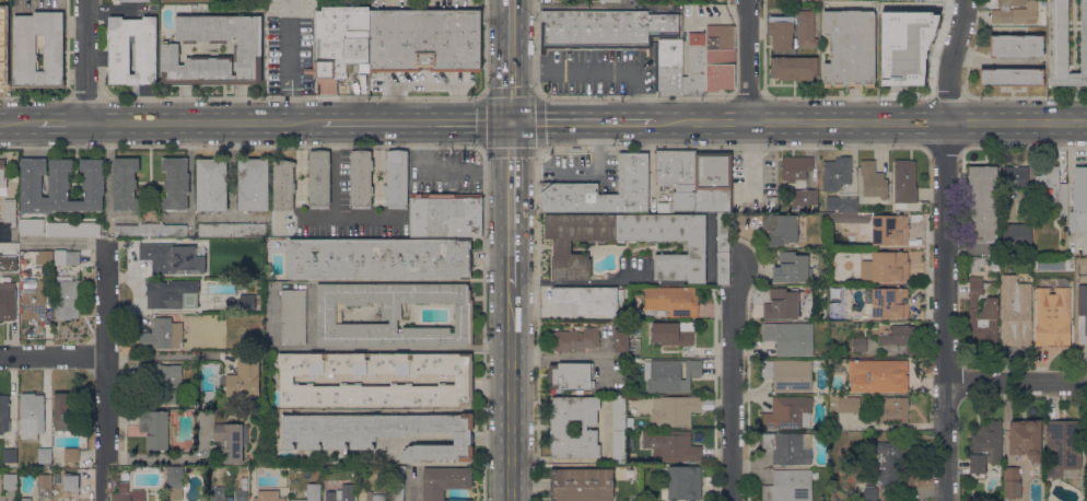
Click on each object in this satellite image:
building: (135, 0)
building: (608, 0)
building: (796, 0)
building: (116, 1)
building: (7, 3)
road: (593, 7)
building: (902, 12)
building: (1015, 12)
building: (605, 28)
building: (807, 28)
road: (510, 32)
building: (781, 32)
building: (720, 37)
building: (1065, 45)
building: (1016, 46)
building: (400, 47)
parking lot: (400, 47)
building: (247, 48)
building: (850, 48)
building: (2, 49)
building: (22, 51)
building: (145, 54)
parking lot: (288, 54)
building: (720, 57)
road: (84, 61)
road: (750, 61)
building: (696, 63)
building: (668, 65)
road: (572, 66)
road: (288, 67)
building: (794, 68)
parking lot: (597, 70)
building: (720, 77)
building: (1010, 77)
road: (510, 93)
road: (534, 93)
road: (633, 95)
traffic signals: (510, 120)
road: (16, 121)
road: (59, 121)
road: (200, 121)
road: (413, 121)
road: (581, 121)
road: (869, 124)
road: (417, 147)
road: (751, 158)
road: (596, 160)
road: (149, 163)
building: (795, 167)
road: (336, 170)
parking lot: (583, 170)
parking lot: (443, 172)
road: (440, 173)
building: (835, 173)
building: (1015, 175)
building: (678, 176)
building: (2, 178)
building: (318, 178)
building: (395, 178)
building: (360, 179)
building: (873, 179)
road: (150, 182)
building: (713, 183)
building: (904, 183)
building: (125, 184)
building: (175, 184)
building: (210, 184)
building: (253, 184)
building: (283, 185)
building: (60, 186)
building: (1053, 187)
building: (570, 188)
building: (804, 197)
building: (1078, 200)
road: (510, 203)
building: (982, 203)
building: (848, 205)
building: (1026, 208)
building: (9, 211)
building: (445, 214)
road: (349, 217)
building: (849, 218)
building: (32, 226)
building: (780, 228)
building: (72, 229)
building: (132, 230)
building: (168, 230)
building: (232, 230)
building: (889, 230)
building: (292, 233)
building: (1017, 234)
road: (51, 243)
building: (562, 247)
building: (723, 249)
road: (948, 249)
building: (44, 257)
building: (67, 257)
building: (377, 258)
building: (164, 259)
building: (975, 263)
building: (994, 263)
building: (889, 266)
building: (792, 268)
road: (734, 287)
building: (164, 293)
building: (67, 298)
building: (33, 299)
building: (588, 299)
building: (7, 300)
building: (245, 301)
building: (670, 302)
building: (889, 303)
building: (783, 304)
building: (196, 306)
building: (1016, 311)
building: (982, 313)
building: (390, 314)
building: (1052, 316)
building: (293, 317)
building: (1080, 325)
building: (673, 334)
building: (162, 335)
building: (902, 337)
building: (790, 338)
building: (574, 339)
building: (620, 341)
building: (860, 343)
road: (168, 354)
road: (52, 358)
road: (564, 358)
road: (106, 372)
building: (669, 374)
building: (788, 374)
building: (570, 375)
building: (877, 375)
building: (244, 378)
building: (464, 380)
building: (164, 383)
road: (1018, 392)
road: (513, 393)
building: (849, 405)
road: (734, 407)
building: (893, 409)
building: (674, 410)
building: (67, 411)
building: (788, 412)
building: (3, 413)
building: (31, 416)
building: (560, 427)
building: (618, 429)
building: (156, 430)
building: (379, 433)
building: (1024, 434)
building: (231, 441)
building: (671, 445)
building: (788, 447)
building: (985, 447)
building: (1063, 447)
building: (45, 454)
building: (70, 454)
building: (10, 455)
road: (176, 461)
building: (27, 462)
building: (1035, 468)
building: (884, 471)
building: (45, 480)
building: (10, 481)
building: (71, 481)
building: (444, 481)
building: (175, 482)
building: (397, 482)
building: (680, 482)
building: (1014, 483)
building: (581, 485)
building: (788, 486)
building: (292, 487)
building: (242, 493)
building: (340, 493)
building: (215, 494)
building: (130, 496)
building: (272, 497)
building: (374, 497)
building: (24, 499)
building: (303, 500)

